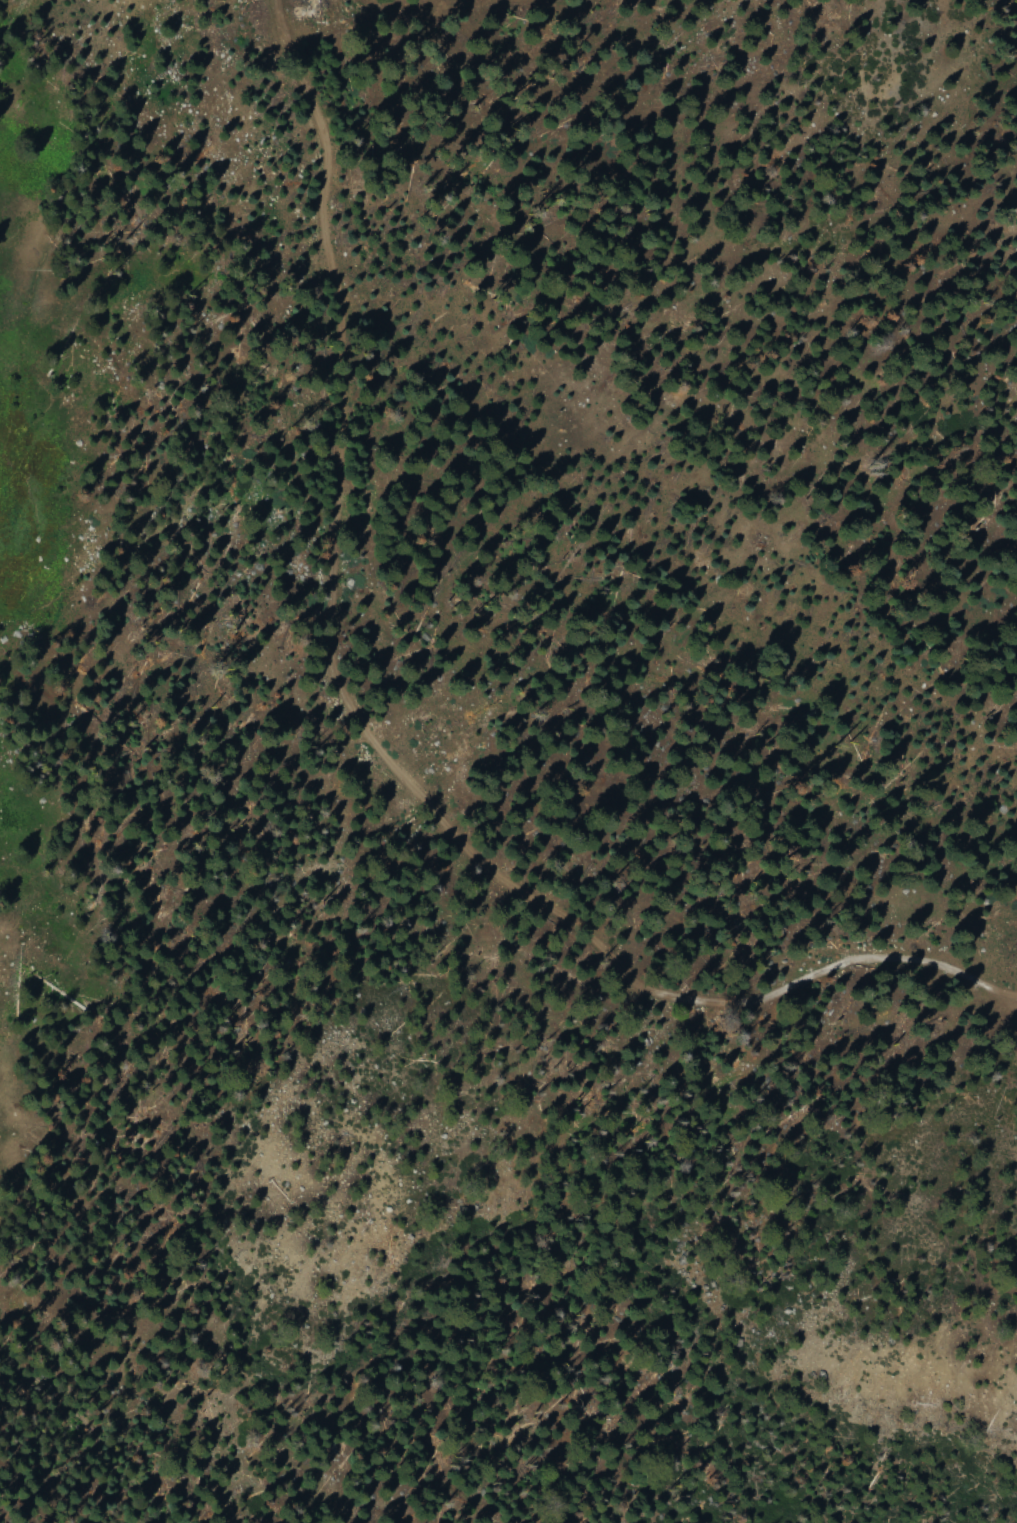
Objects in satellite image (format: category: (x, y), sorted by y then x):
road: (377, 735)

